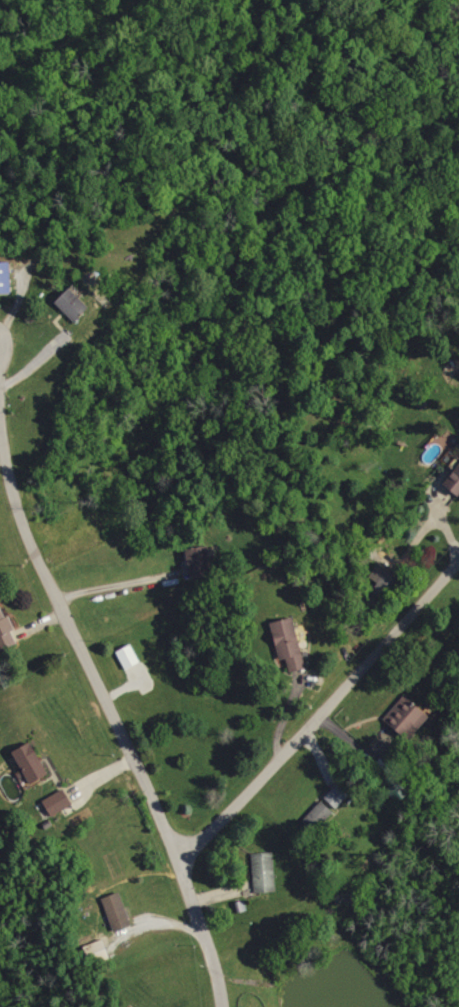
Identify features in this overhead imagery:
building: (6, 277)
building: (76, 304)
building: (455, 483)
building: (203, 562)
building: (384, 580)
road: (116, 586)
building: (7, 631)
building: (291, 643)
road: (319, 709)
building: (410, 717)
road: (111, 720)
building: (34, 763)
building: (60, 802)
building: (329, 807)
building: (119, 911)
road: (155, 923)

